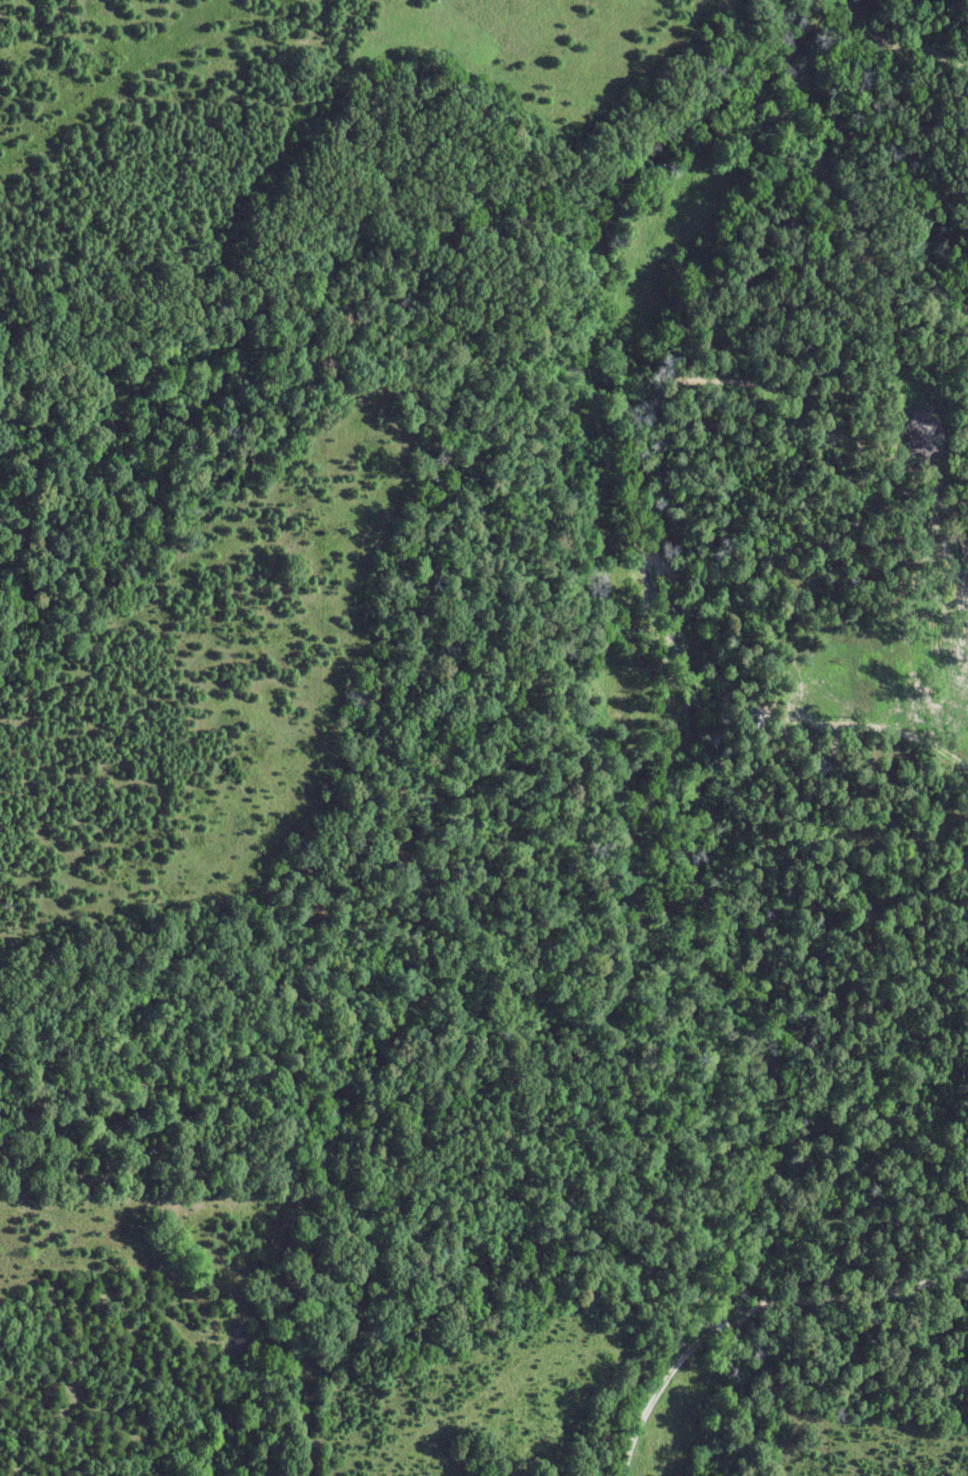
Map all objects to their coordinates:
road: (880, 725)

